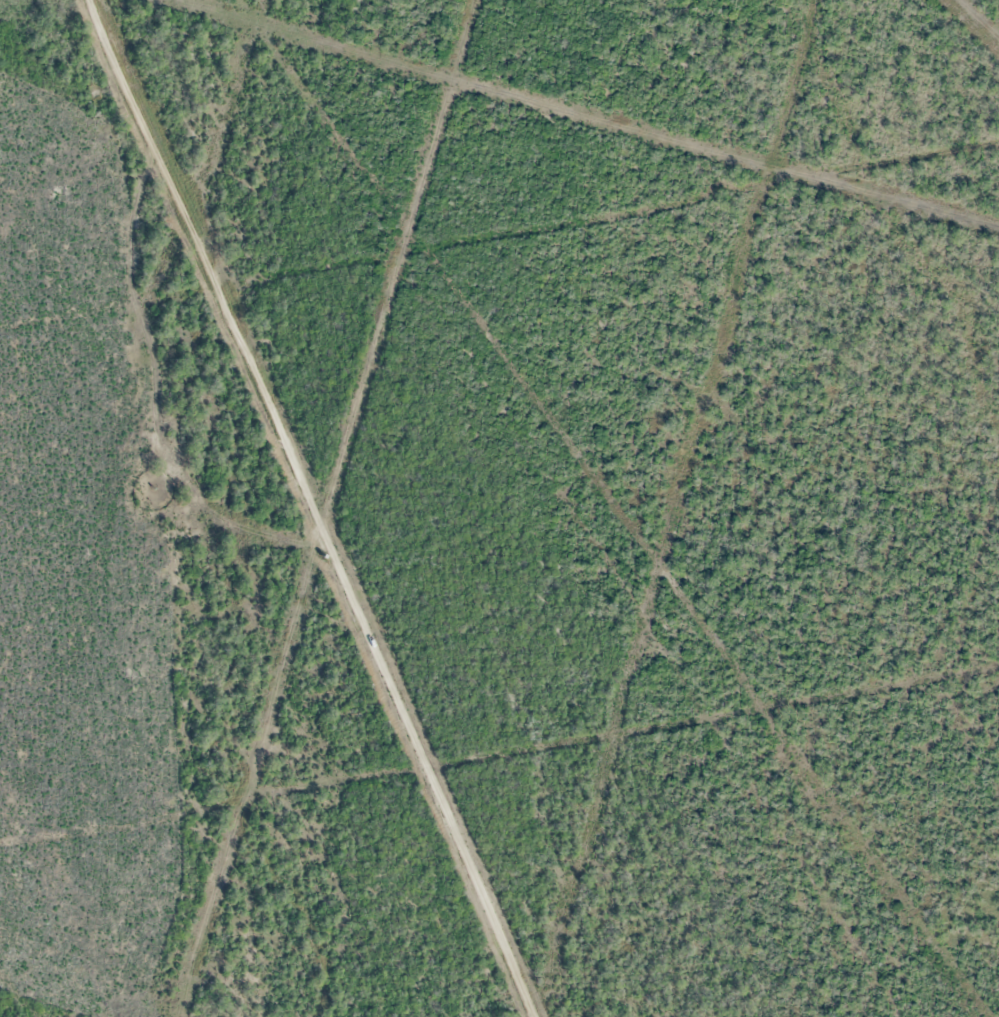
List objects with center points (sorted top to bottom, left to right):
road: (311, 509)

